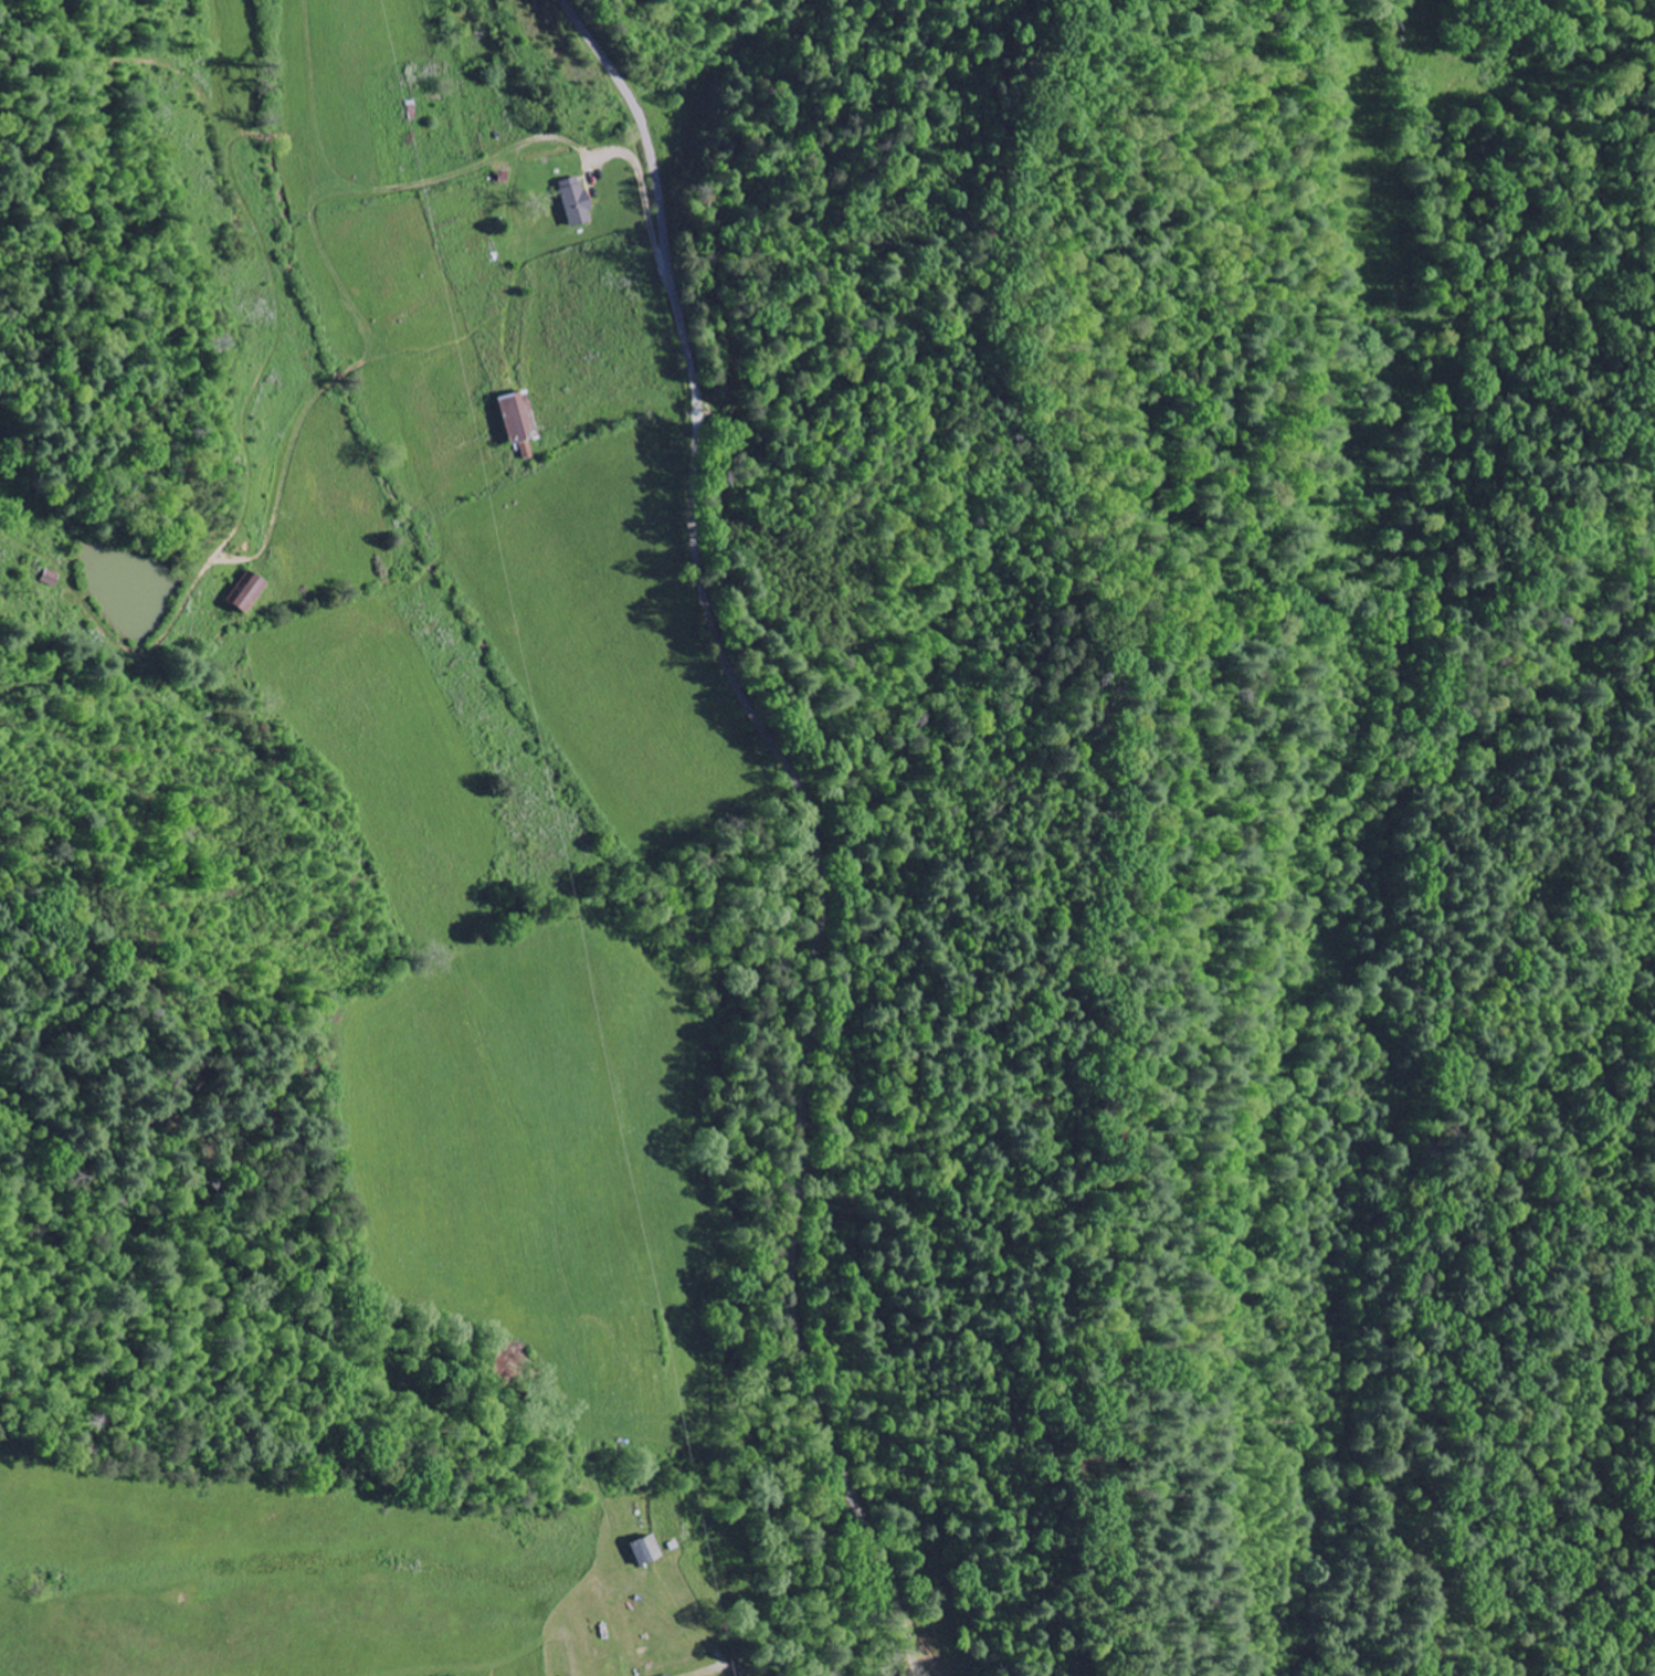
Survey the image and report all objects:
building: (571, 203)
road: (428, 294)
building: (246, 595)
road: (811, 822)
building: (643, 1551)

